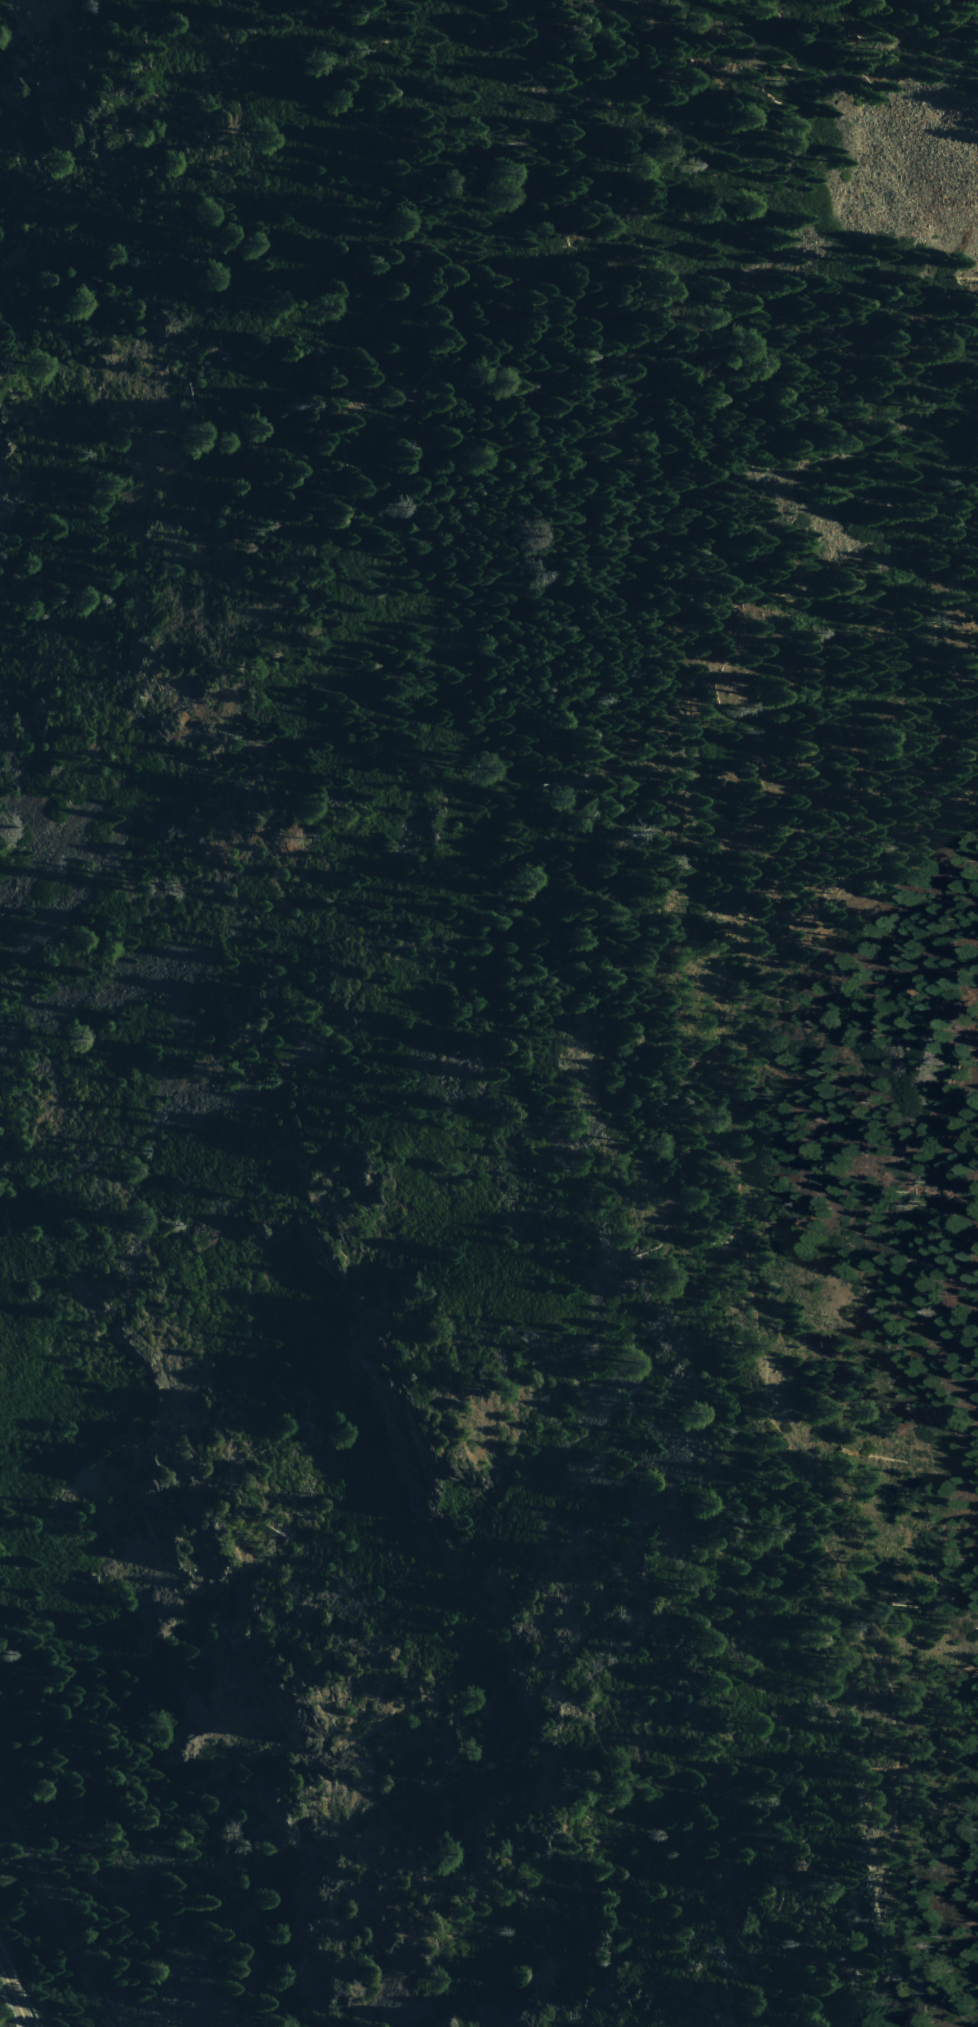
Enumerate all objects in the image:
road: (964, 1056)
road: (826, 1542)
road: (13, 1997)

